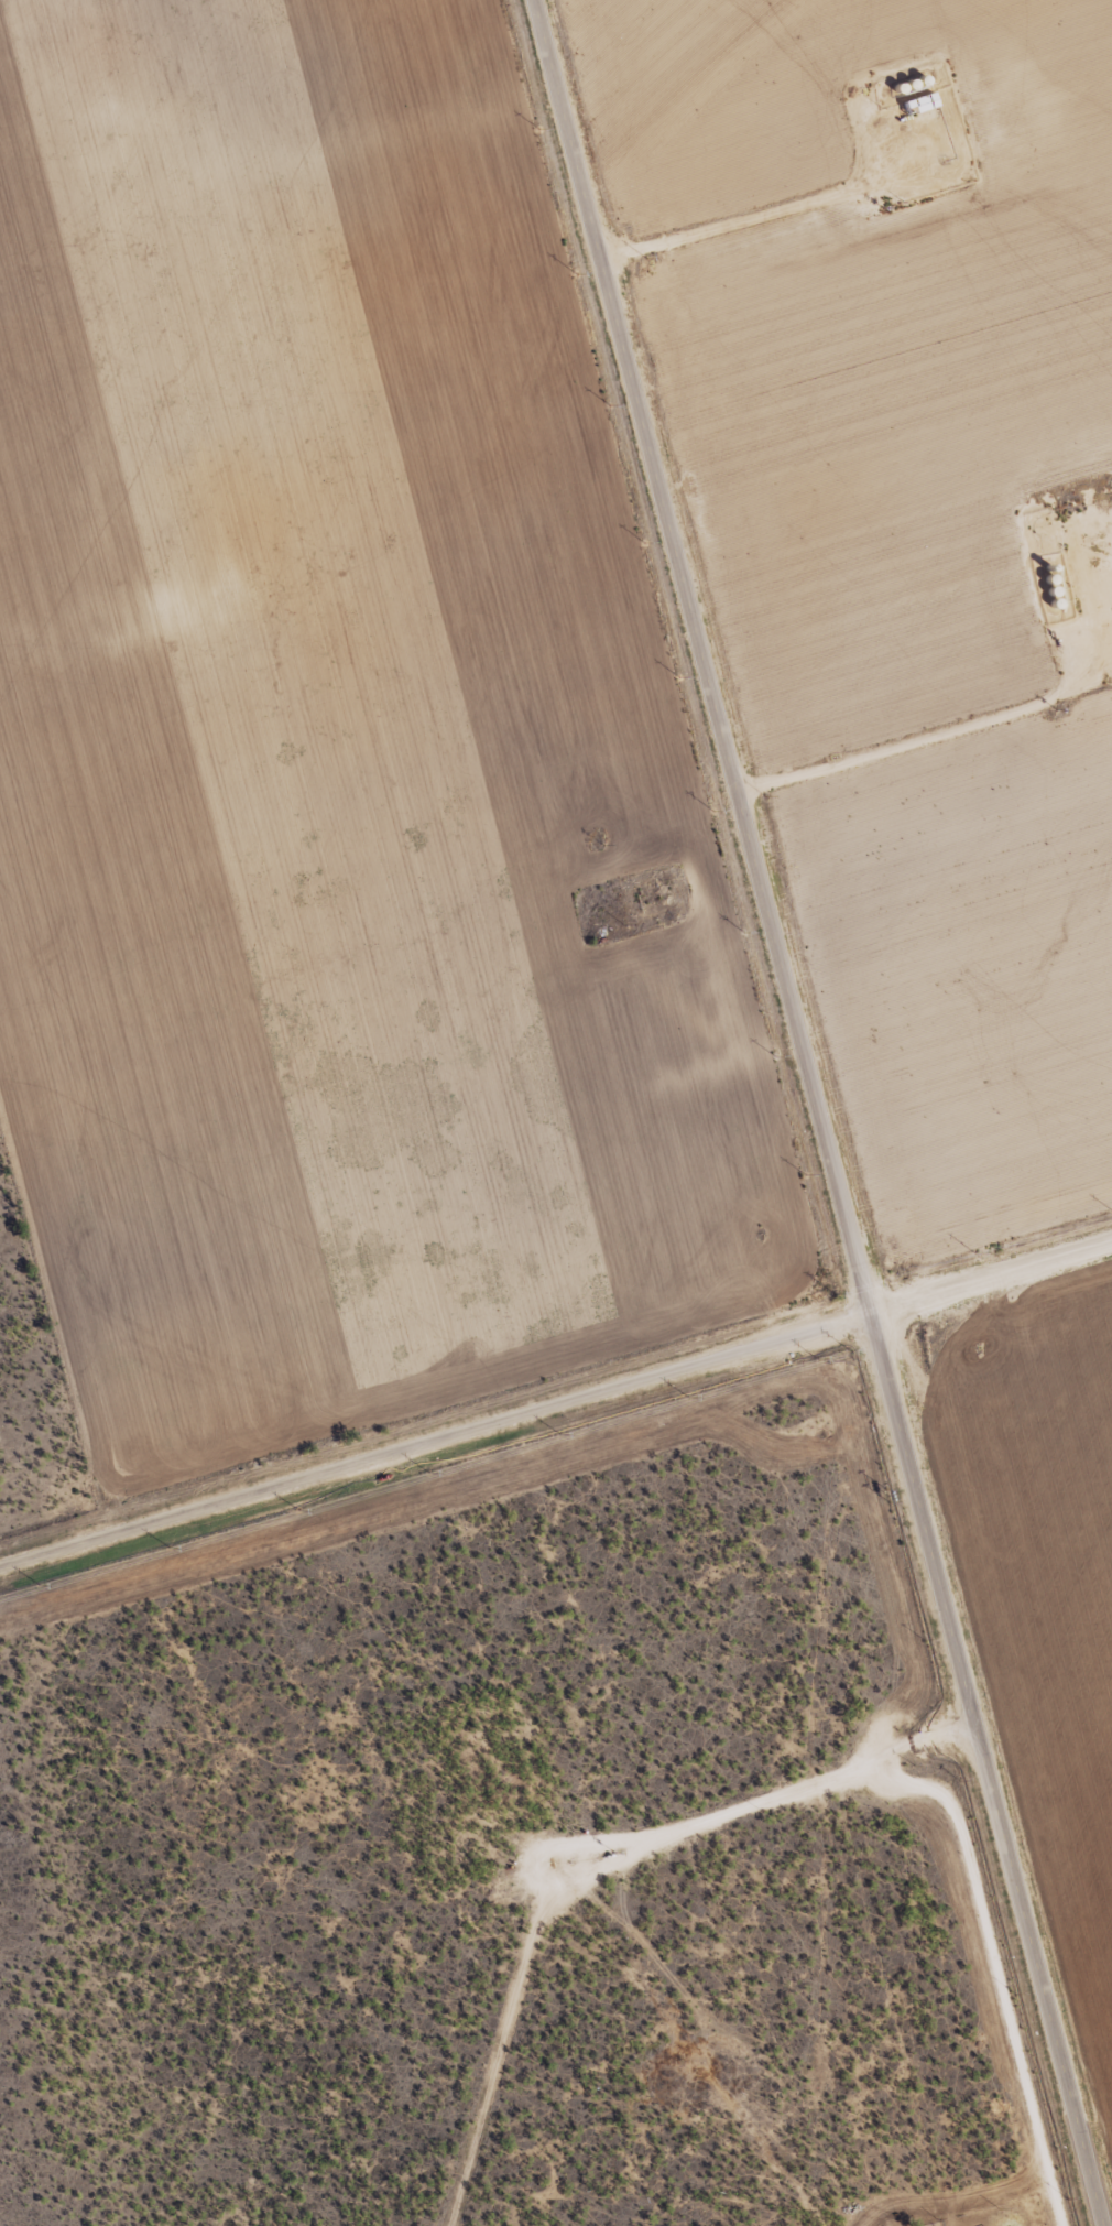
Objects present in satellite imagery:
building: (918, 102)
road: (814, 1112)
road: (563, 1415)

